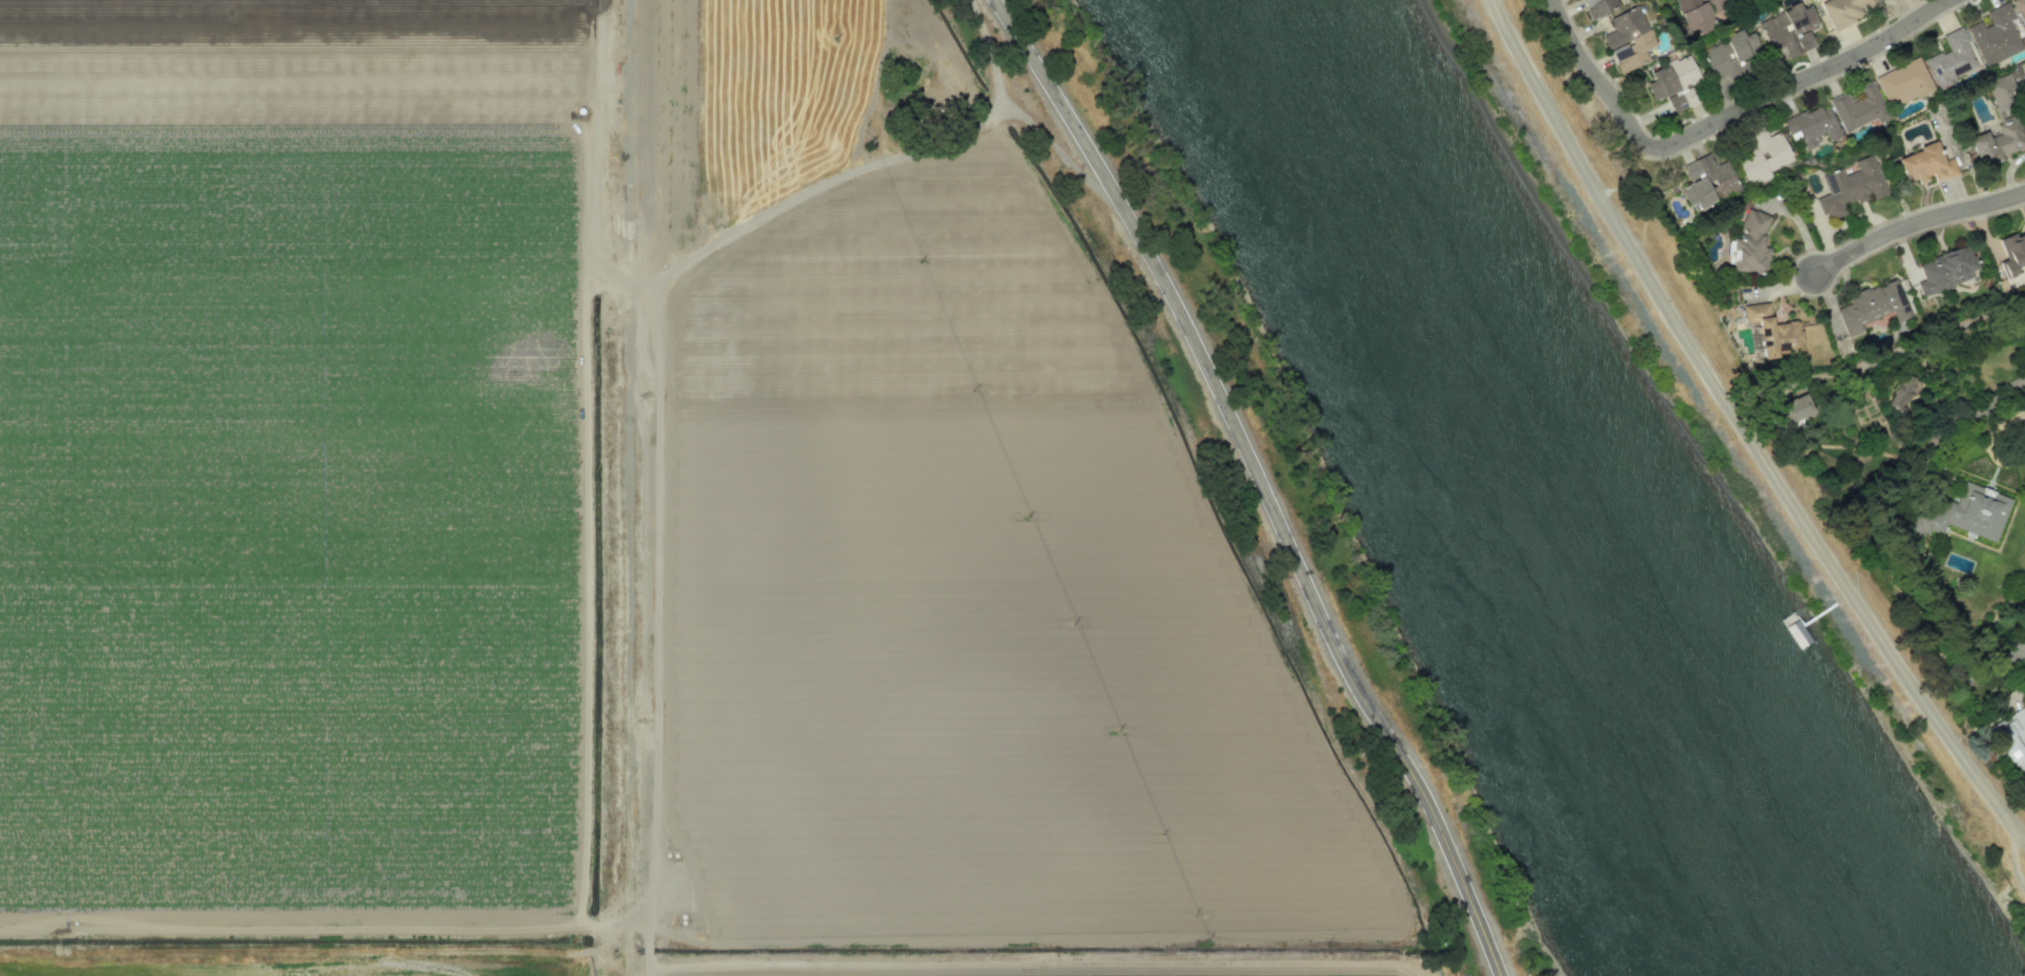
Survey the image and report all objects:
building: (1599, 6)
building: (2020, 10)
building: (1844, 11)
building: (1700, 13)
building: (1789, 29)
building: (1995, 35)
building: (1629, 39)
road: (991, 53)
building: (1731, 57)
building: (1950, 59)
building: (1903, 82)
building: (1675, 83)
building: (1859, 108)
road: (1725, 121)
building: (1999, 124)
building: (1813, 125)
road: (1062, 154)
building: (1764, 156)
building: (1926, 165)
building: (1708, 181)
road: (829, 182)
building: (1851, 187)
road: (1918, 223)
building: (1751, 244)
building: (2013, 258)
building: (1946, 270)
road: (636, 281)
building: (1873, 306)
building: (1774, 331)
road: (2020, 405)
building: (1865, 408)
building: (1792, 409)
road: (1736, 431)
road: (1258, 481)
river: (1499, 488)
building: (1969, 512)
road: (659, 591)
road: (2014, 649)
crop: (1055, 971)

